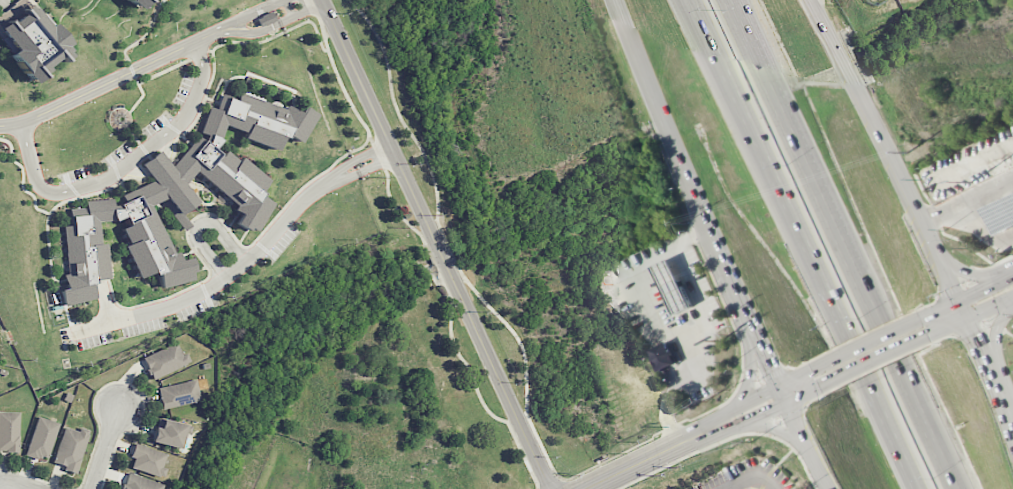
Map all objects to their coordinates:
building: (136, 2)
road: (289, 9)
road: (309, 11)
road: (249, 13)
building: (266, 19)
road: (260, 32)
building: (31, 39)
road: (113, 79)
road: (782, 119)
road: (875, 124)
road: (362, 157)
road: (682, 160)
road: (124, 166)
road: (368, 170)
building: (179, 198)
road: (967, 201)
building: (1001, 215)
gas station: (1001, 215)
road: (200, 224)
road: (793, 224)
road: (437, 244)
road: (965, 273)
road: (1009, 278)
road: (950, 283)
road: (217, 285)
building: (672, 287)
traffic signals: (976, 292)
road: (963, 298)
road: (106, 302)
road: (972, 314)
traffic signals: (972, 332)
traffic signals: (932, 334)
road: (995, 336)
road: (867, 343)
road: (979, 348)
road: (762, 353)
building: (663, 357)
road: (894, 357)
road: (877, 360)
building: (165, 361)
road: (750, 365)
traffic signals: (813, 369)
traffic signals: (770, 371)
road: (795, 377)
building: (181, 393)
road: (782, 395)
road: (804, 395)
road: (757, 396)
road: (1003, 400)
traffic signals: (768, 413)
road: (727, 416)
road: (752, 419)
road: (776, 429)
building: (9, 431)
building: (171, 433)
building: (42, 438)
road: (809, 446)
building: (71, 448)
road: (104, 448)
road: (651, 457)
building: (148, 460)
road: (907, 468)
road: (749, 475)
building: (140, 483)
road: (953, 483)
road: (23, 486)

